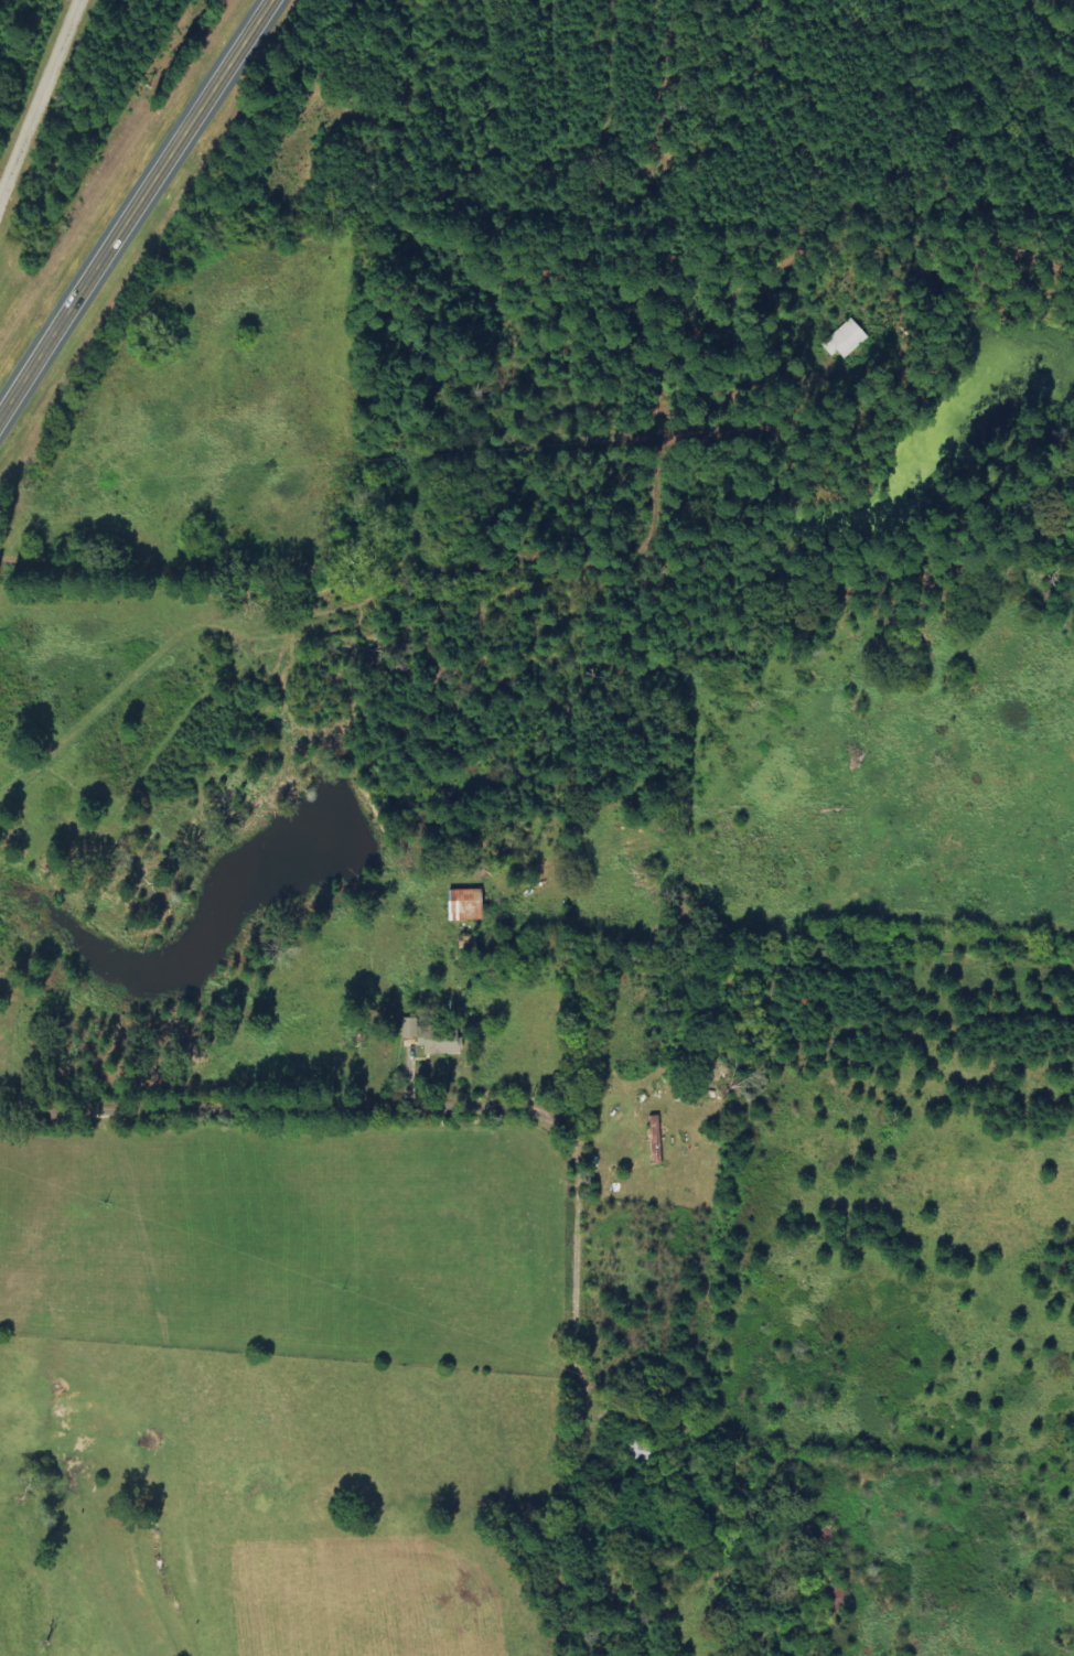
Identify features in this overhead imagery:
road: (36, 96)
road: (138, 212)
building: (844, 340)
building: (429, 1037)
road: (396, 1082)

